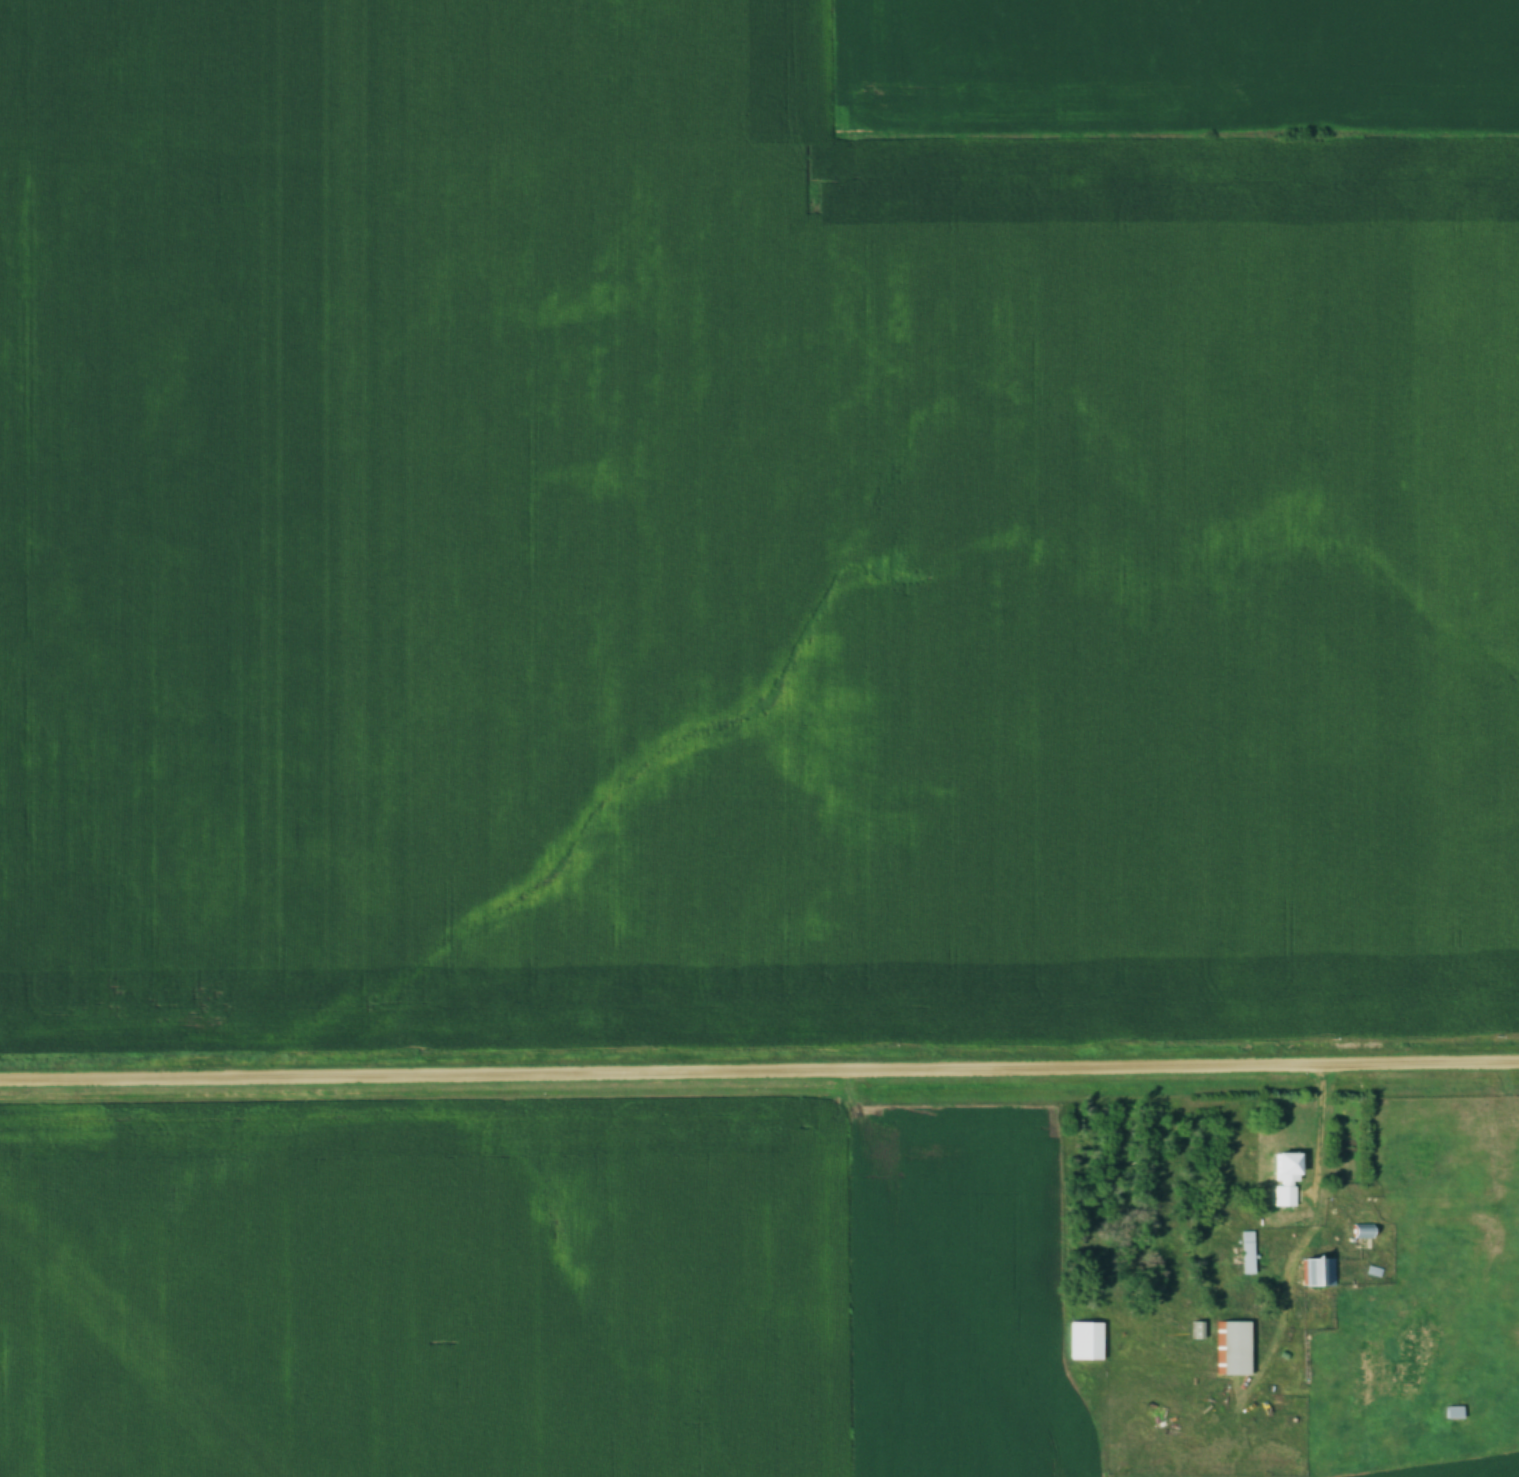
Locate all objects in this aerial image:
road: (759, 1072)
road: (1319, 1132)
building: (1288, 1180)
building: (1363, 1232)
building: (1248, 1253)
building: (1319, 1271)
building: (1088, 1341)
building: (1236, 1348)
building: (1454, 1413)

